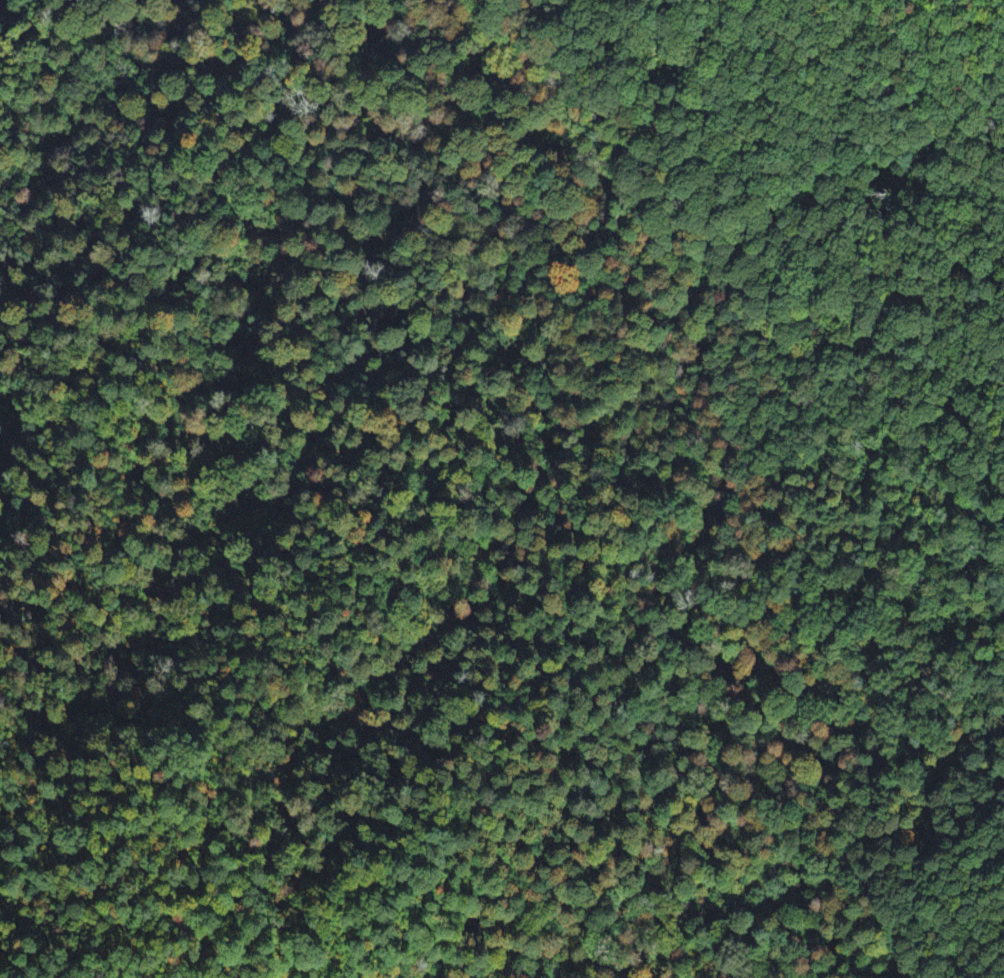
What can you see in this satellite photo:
road: (543, 49)

